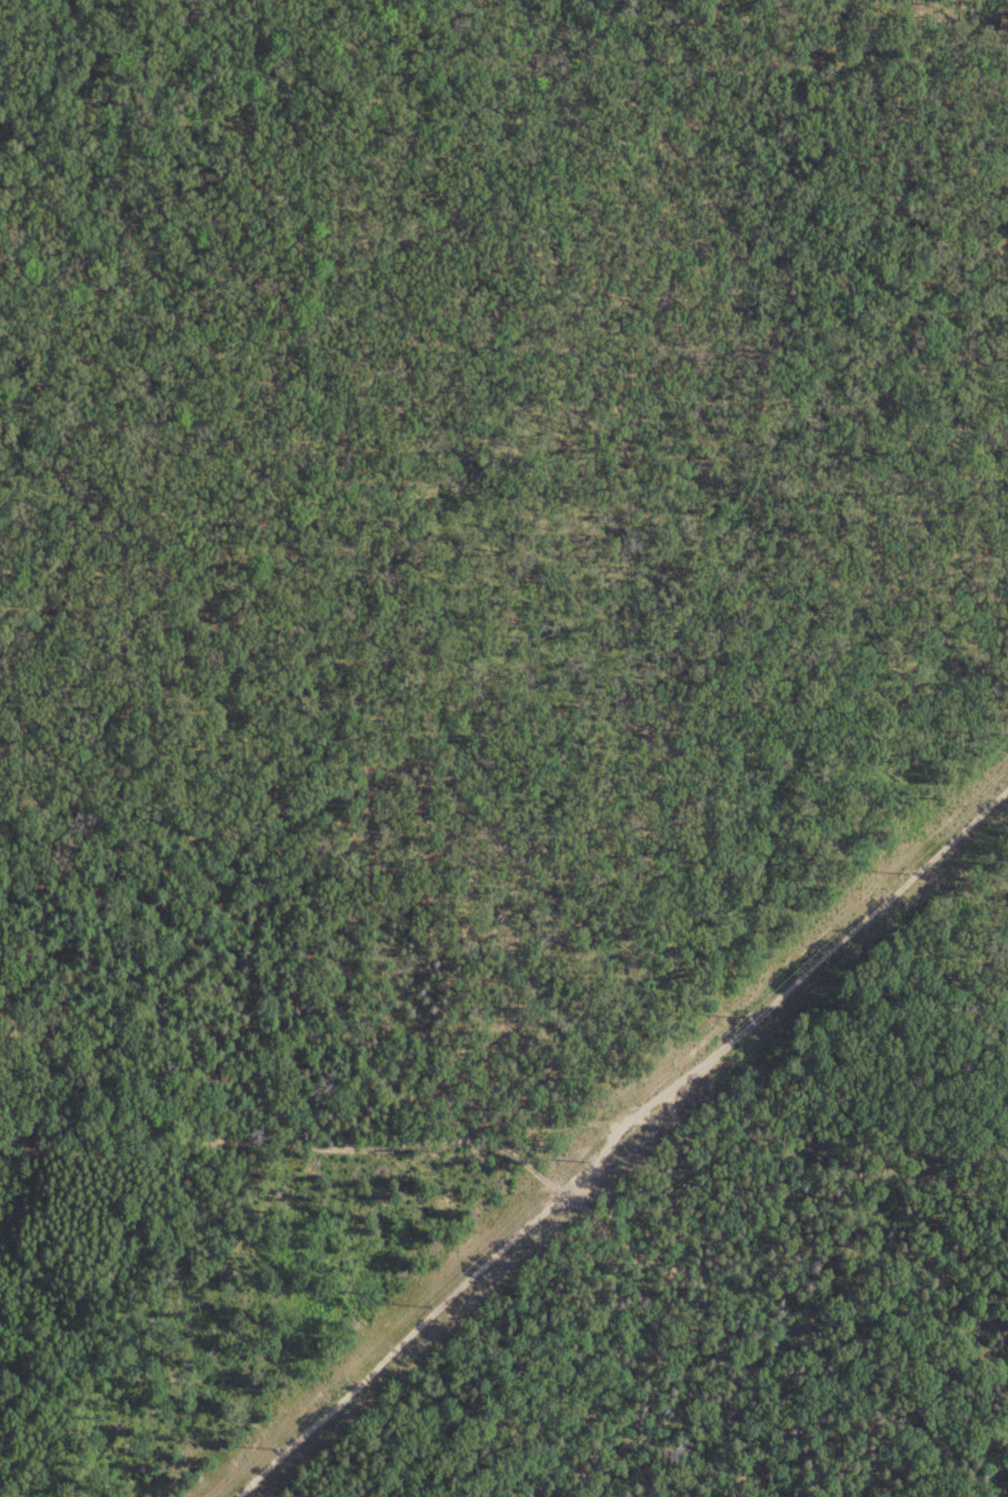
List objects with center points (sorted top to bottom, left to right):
road: (549, 1179)

